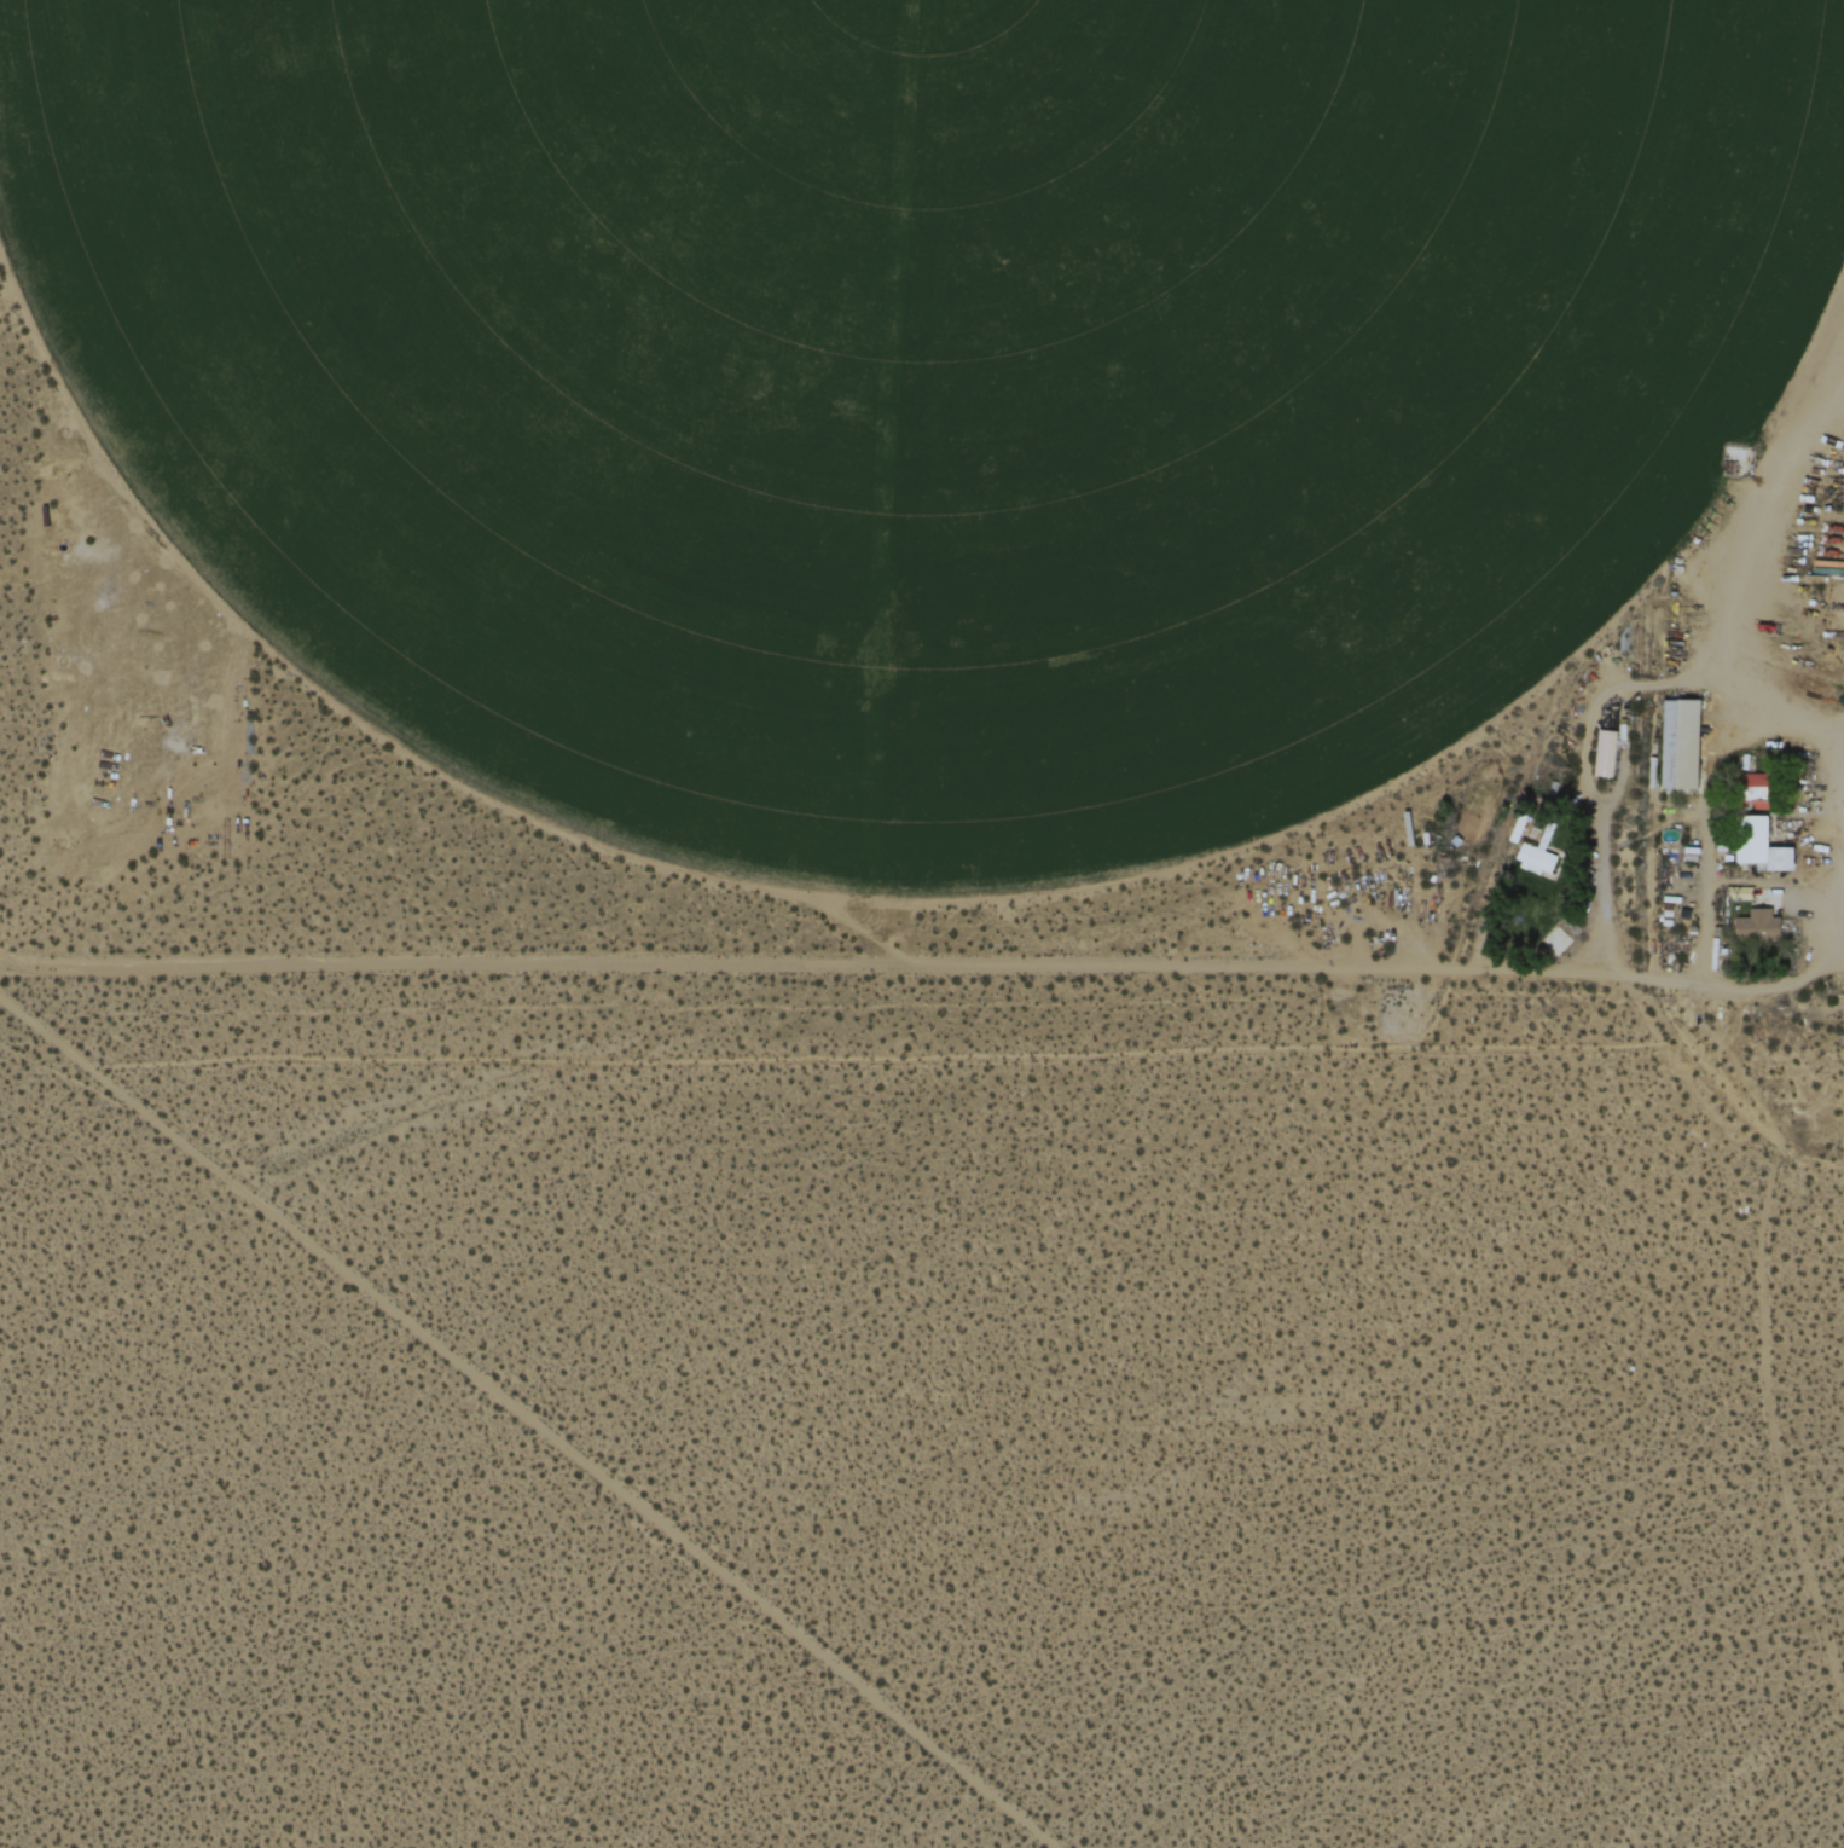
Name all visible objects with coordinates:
crop: (921, 390)
building: (1682, 742)
building: (1605, 752)
building: (1758, 781)
building: (1764, 845)
building: (1536, 858)
building: (1759, 925)
road: (800, 961)
road: (534, 1421)

